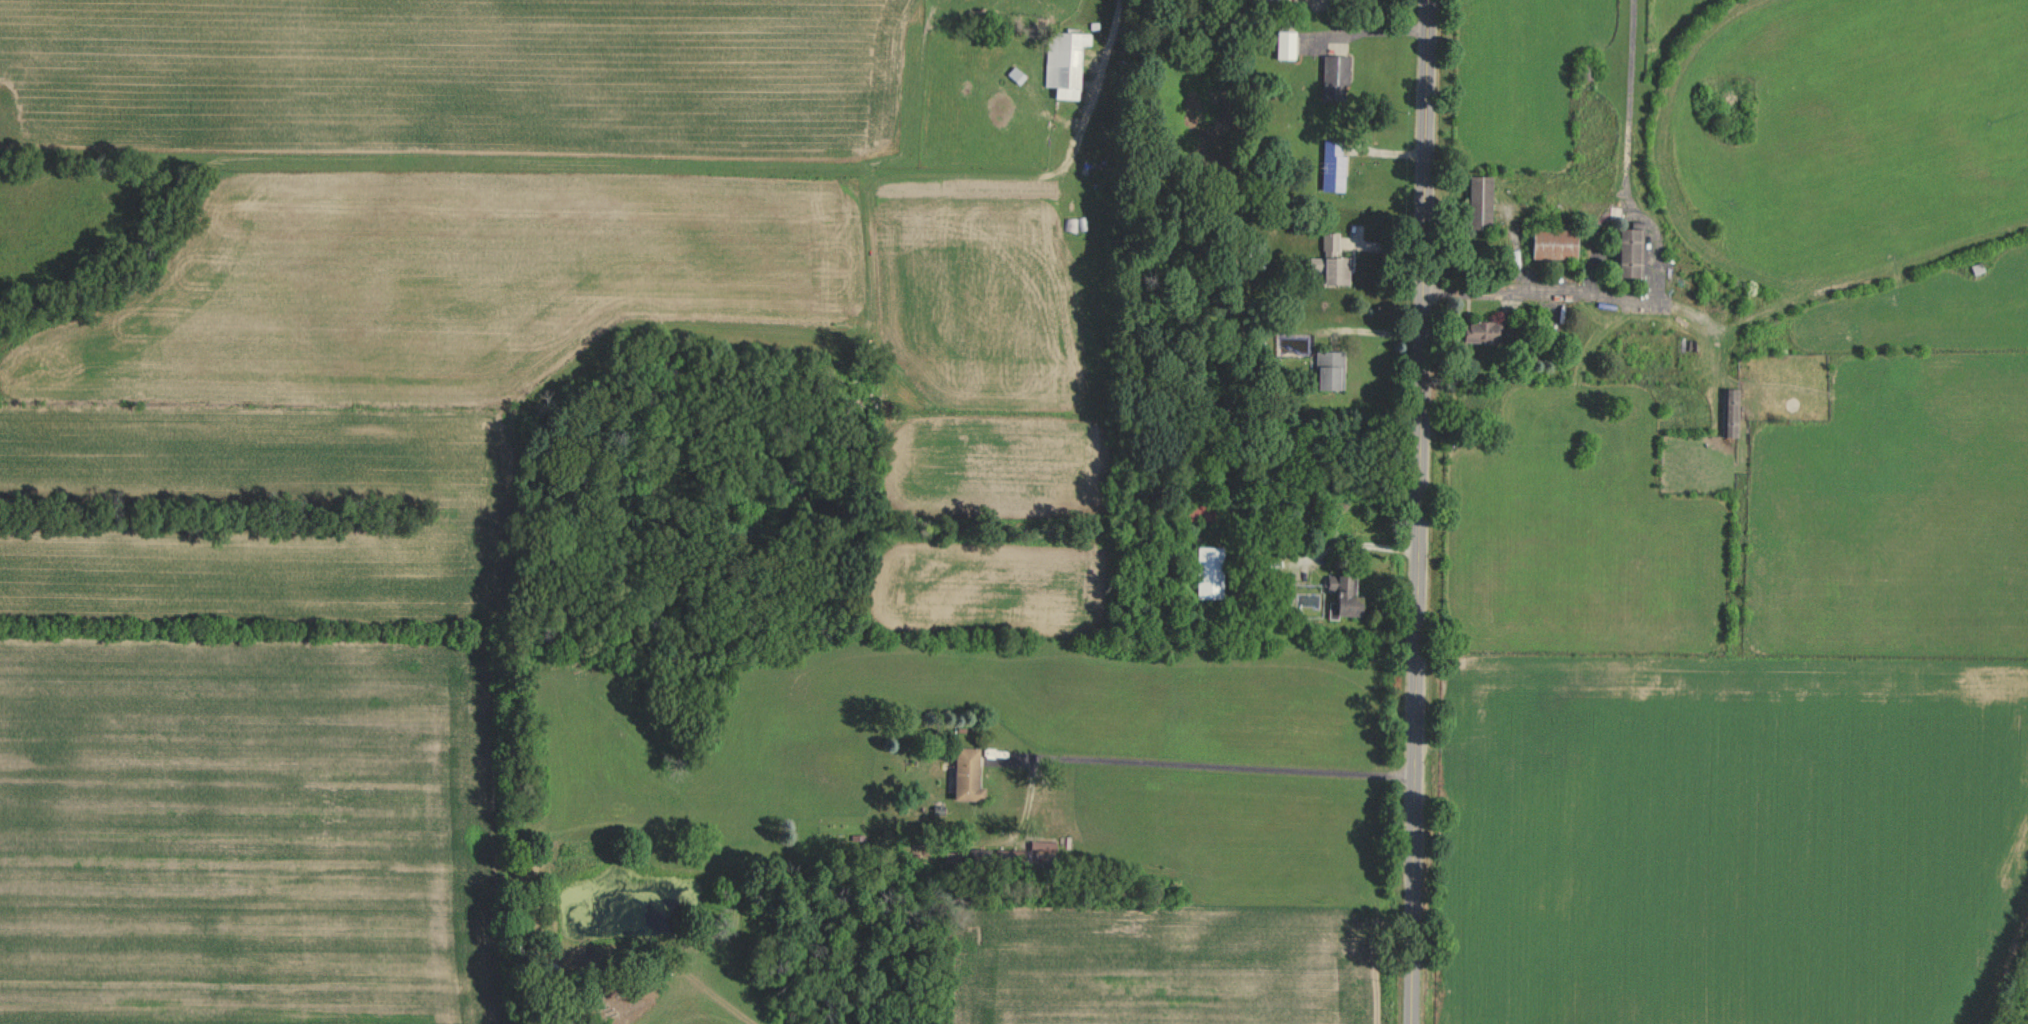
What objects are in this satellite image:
road: (1374, 32)
building: (1285, 43)
road: (1104, 58)
building: (1064, 61)
building: (1335, 76)
building: (1333, 164)
building: (1480, 202)
building: (1070, 223)
building: (1554, 243)
building: (1625, 251)
building: (1255, 253)
building: (1329, 260)
building: (1481, 331)
building: (1521, 344)
building: (1329, 369)
building: (1727, 411)
building: (1196, 511)
road: (1419, 511)
building: (1208, 571)
building: (1343, 595)
road: (1204, 766)
building: (966, 774)

